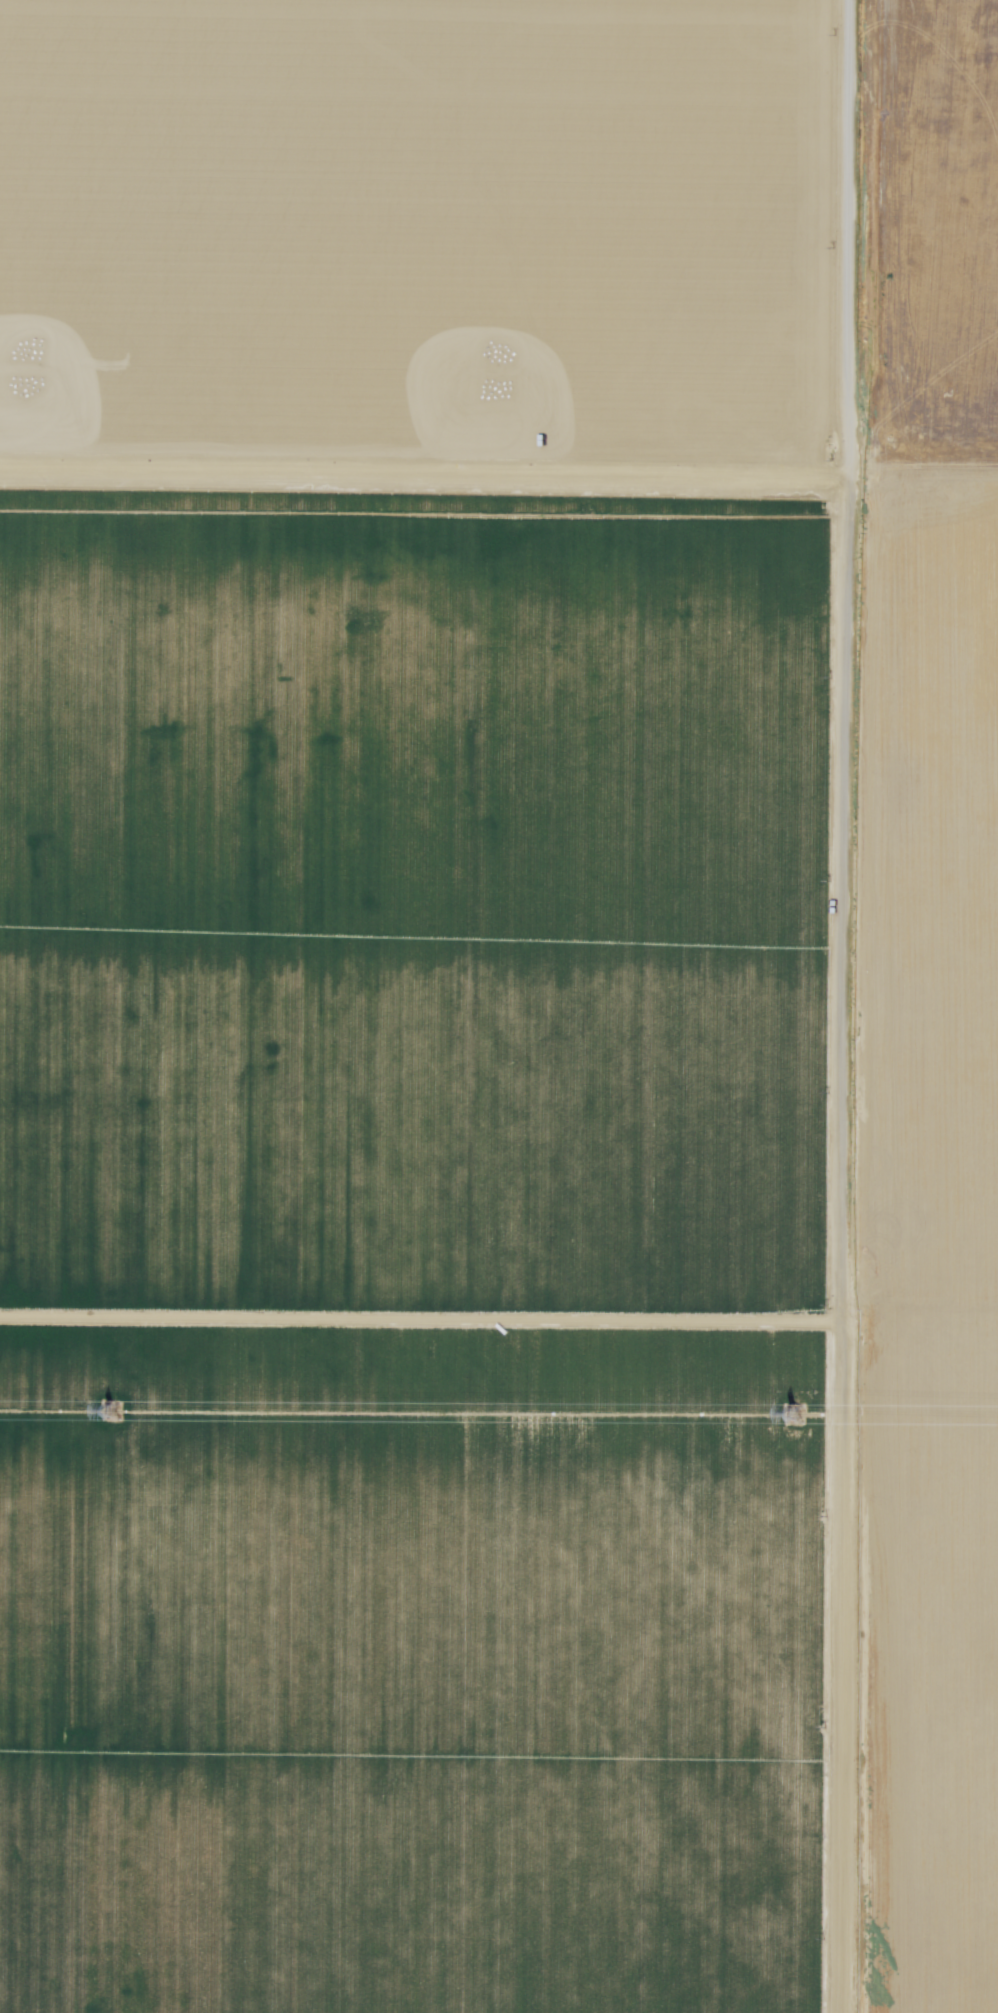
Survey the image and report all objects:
road: (424, 469)
road: (857, 1006)
crop: (417, 1247)
power tower: (113, 1411)
power tower: (795, 1414)

